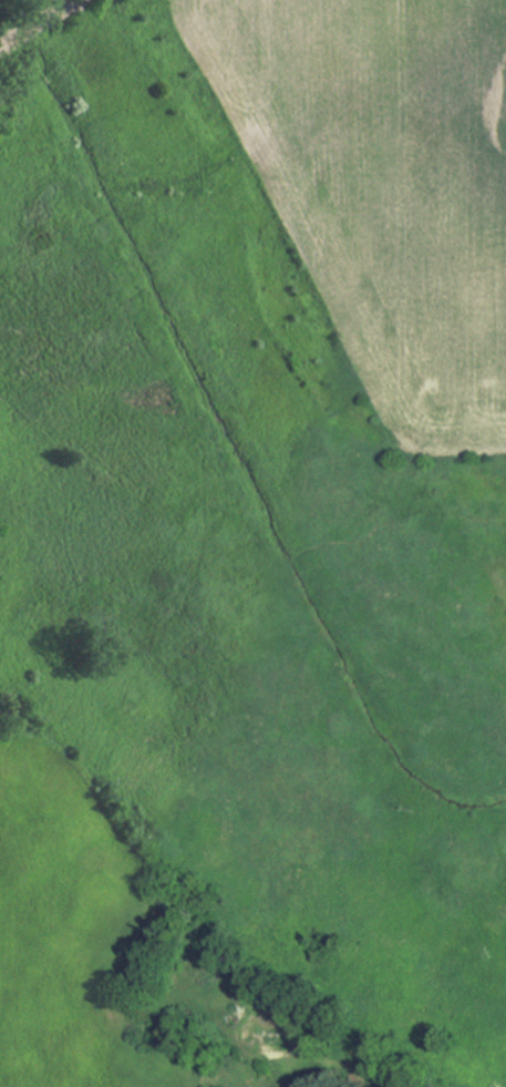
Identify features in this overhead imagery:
road: (34, 21)

